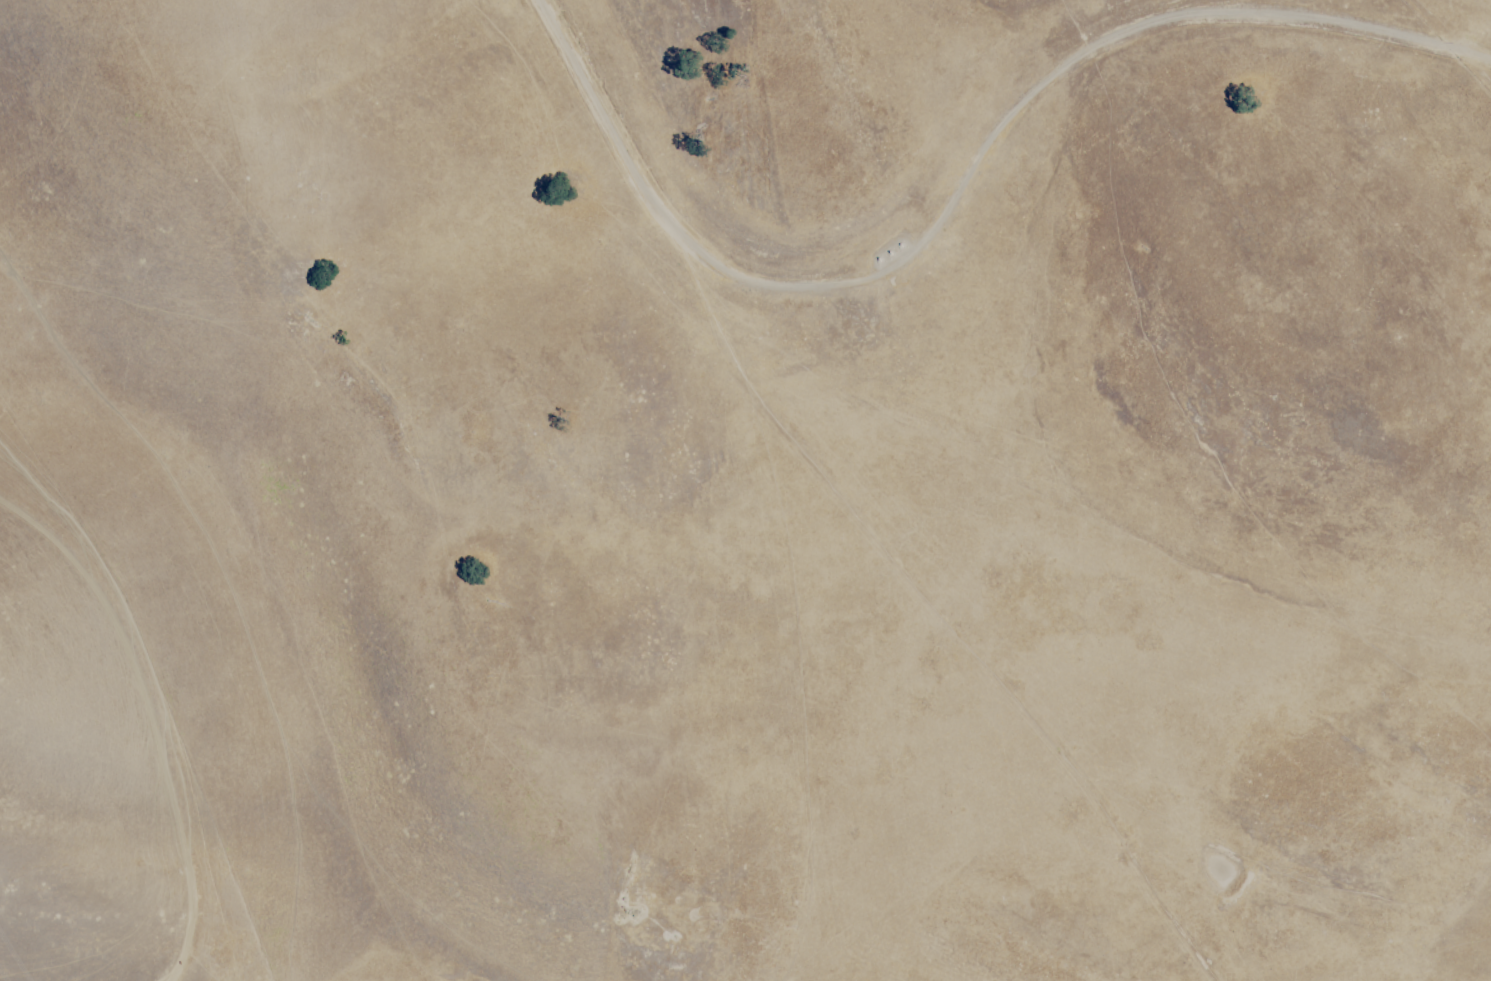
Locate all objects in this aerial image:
road: (954, 182)
park: (745, 490)
road: (946, 638)
road: (147, 720)

